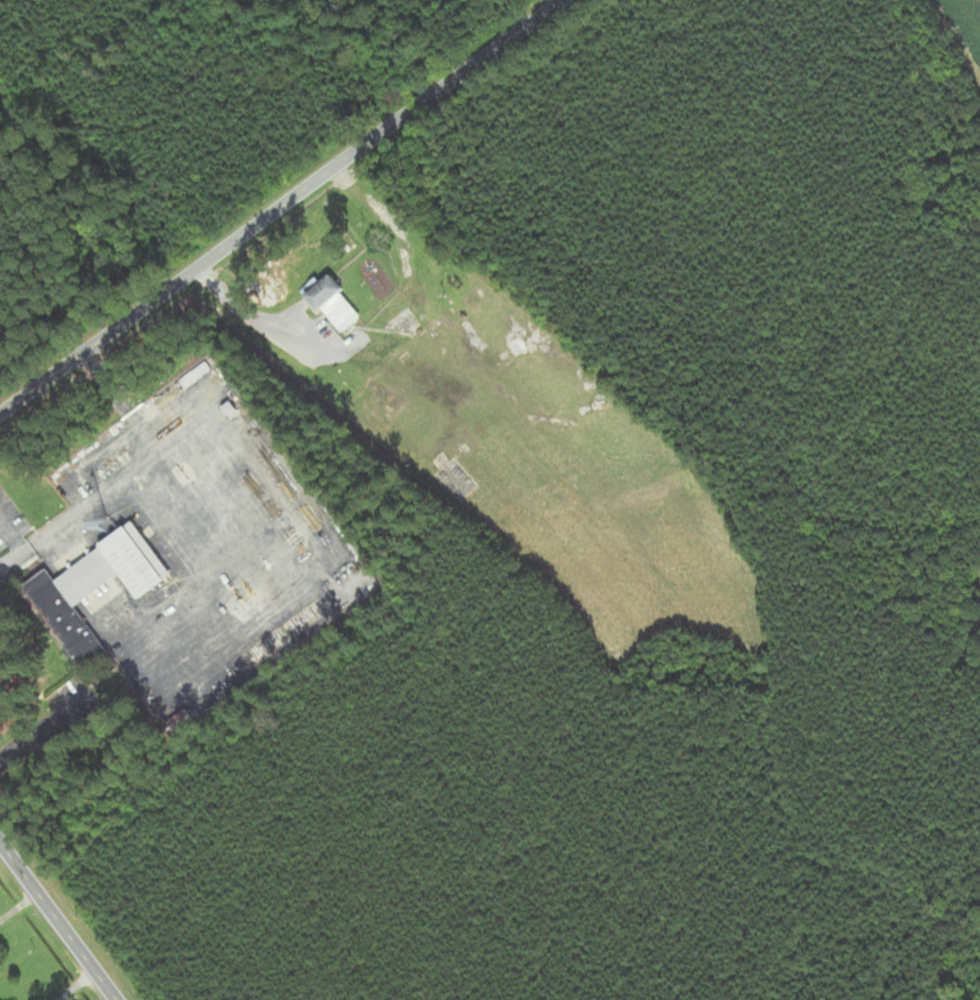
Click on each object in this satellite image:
road: (280, 208)
building: (337, 305)
road: (124, 402)
road: (117, 484)
road: (13, 538)
road: (13, 564)
building: (99, 588)
road: (59, 921)

